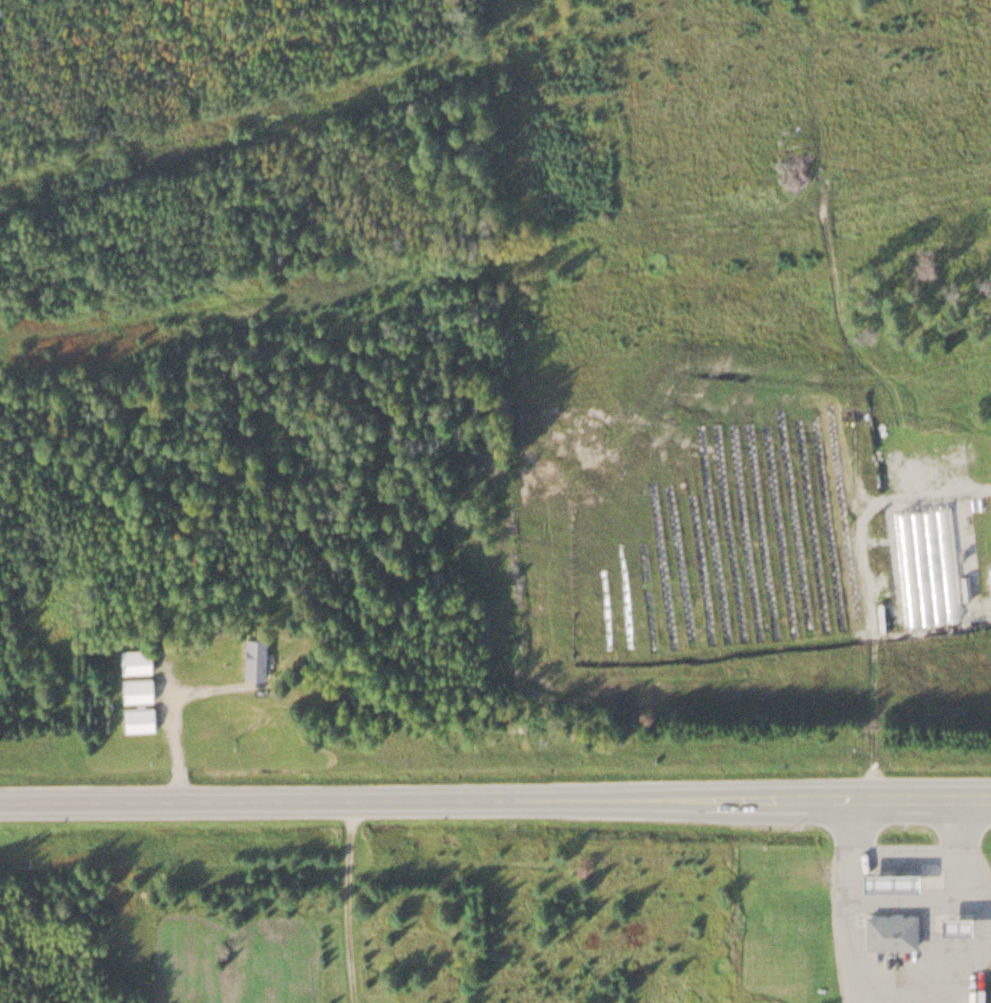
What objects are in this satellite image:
road: (864, 586)
building: (253, 656)
building: (133, 658)
building: (135, 687)
building: (136, 717)
road: (495, 799)
building: (887, 874)
road: (347, 901)
building: (953, 918)
building: (887, 926)

